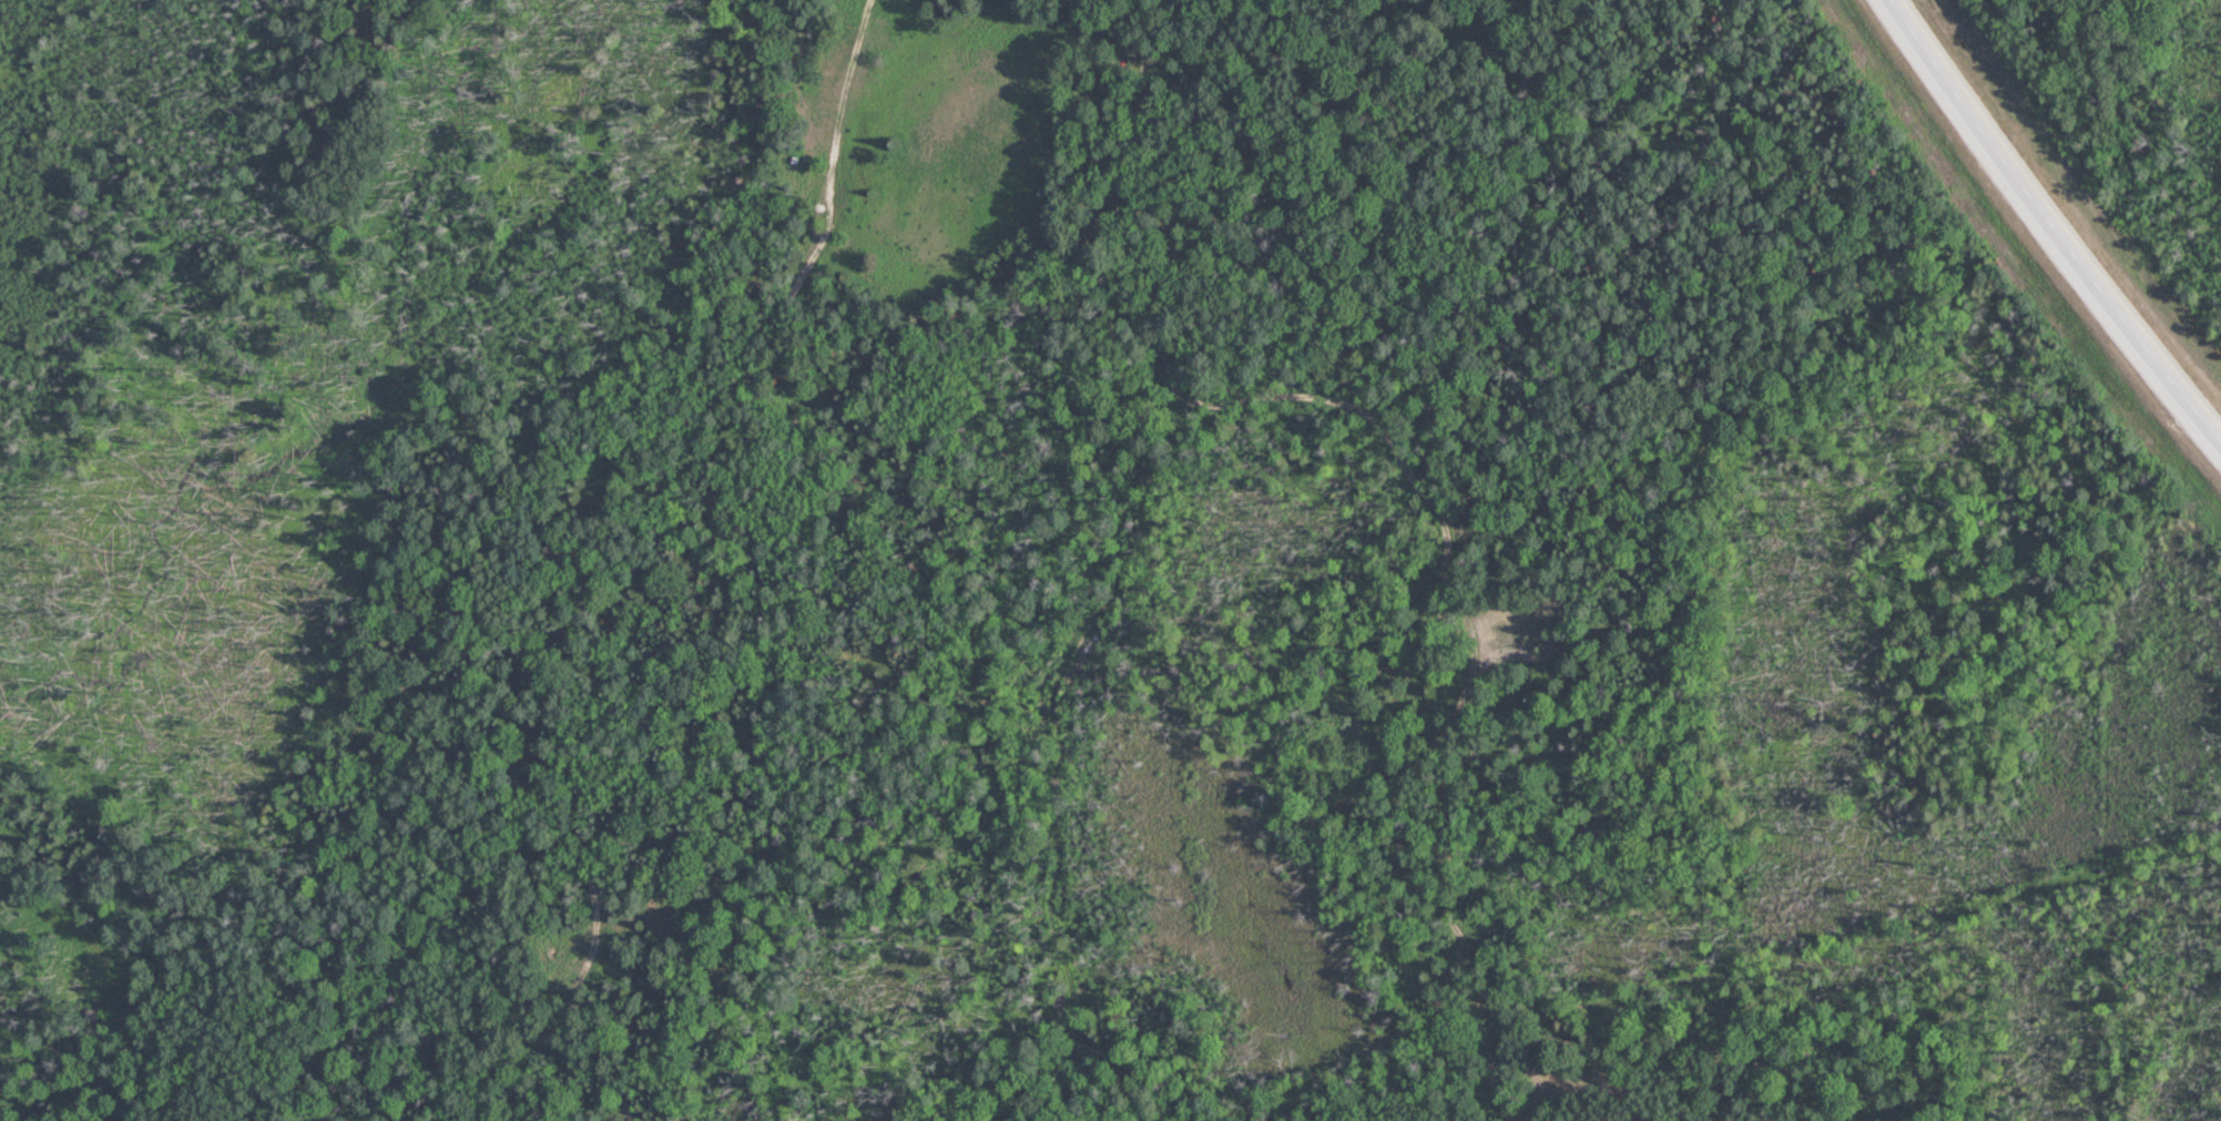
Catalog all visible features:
road: (2055, 217)

